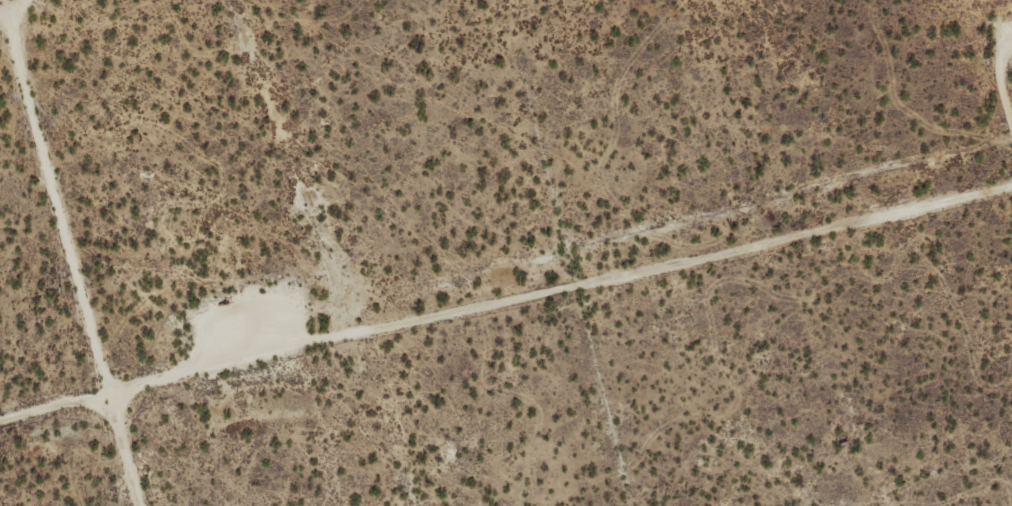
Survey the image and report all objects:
road: (4, 1)
road: (71, 257)
road: (505, 296)

